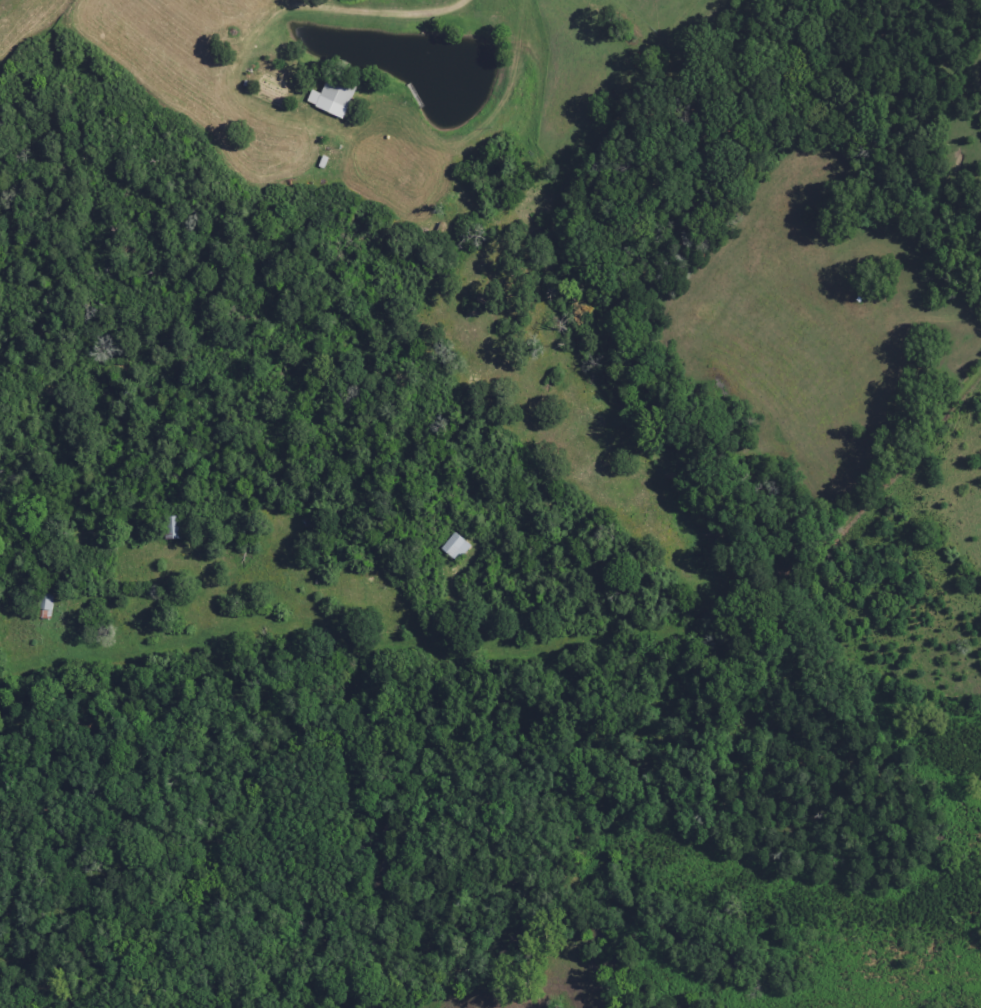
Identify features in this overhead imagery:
building: (327, 94)
building: (178, 530)
building: (446, 548)
building: (47, 608)

